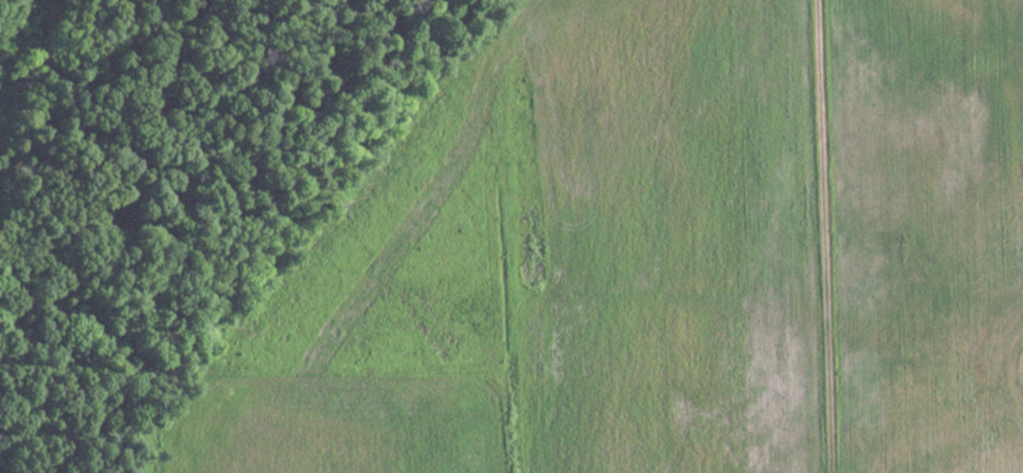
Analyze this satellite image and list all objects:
road: (825, 236)

